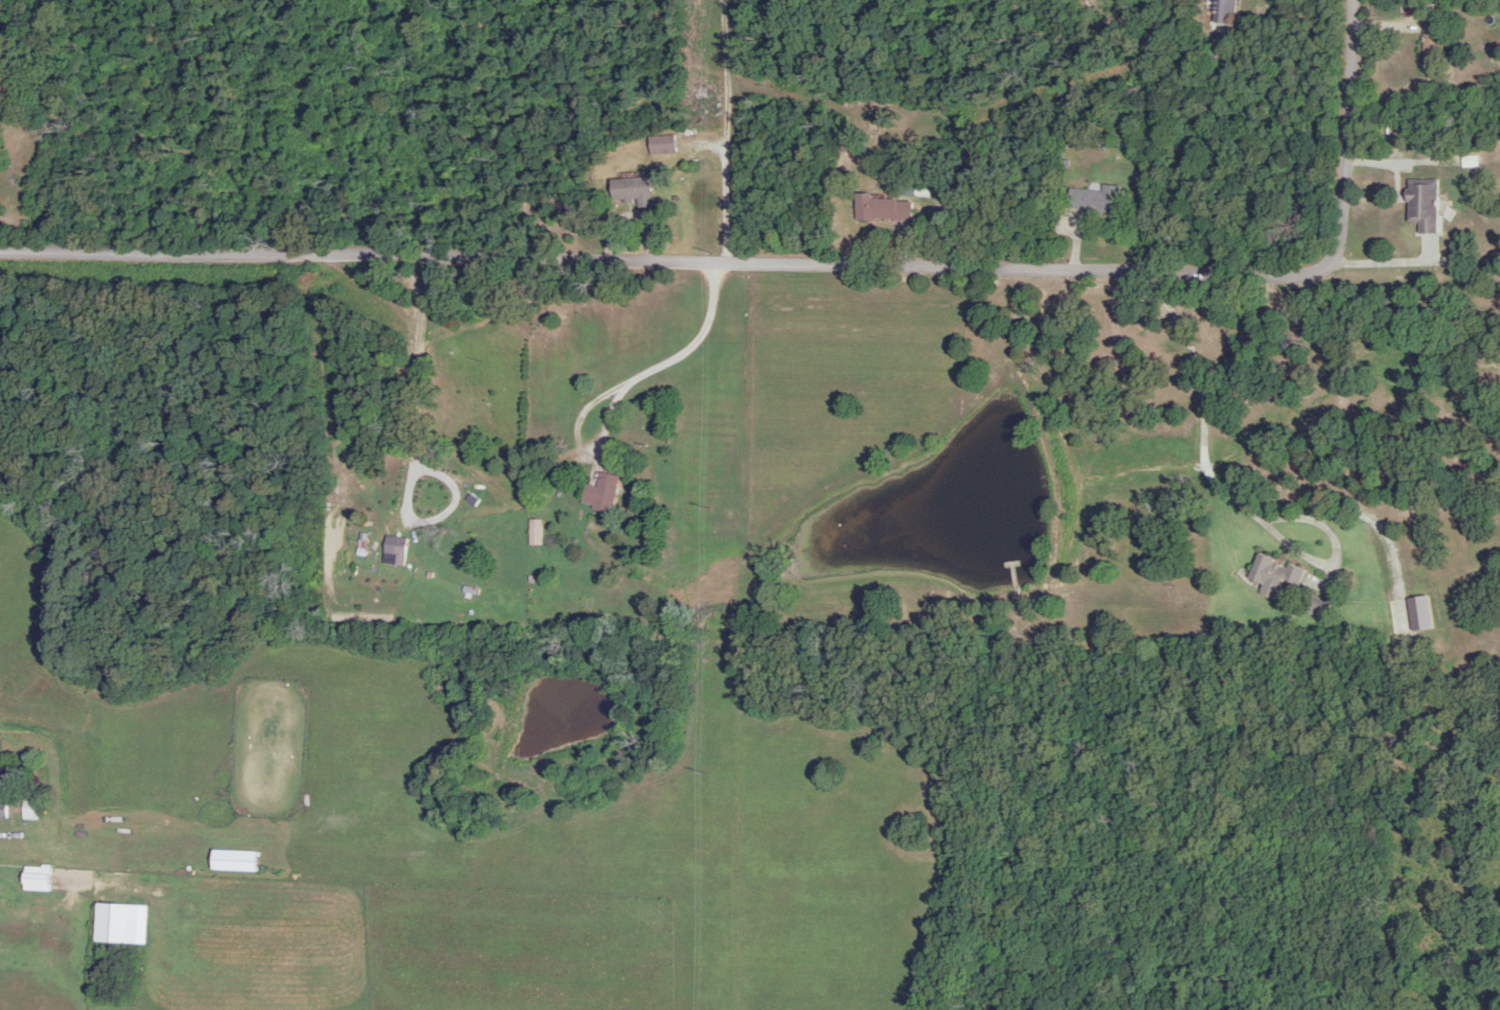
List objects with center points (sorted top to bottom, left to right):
building: (1221, 16)
building: (2, 40)
road: (1346, 131)
building: (659, 145)
building: (630, 189)
building: (1096, 199)
building: (1421, 205)
building: (879, 209)
road: (726, 220)
road: (1384, 261)
road: (666, 263)
road: (1202, 401)
road: (586, 410)
road: (1051, 431)
building: (598, 494)
building: (485, 501)
building: (532, 531)
road: (1290, 546)
building: (392, 552)
building: (1271, 576)
building: (1314, 608)
road: (734, 637)
building: (2, 804)
building: (27, 810)

